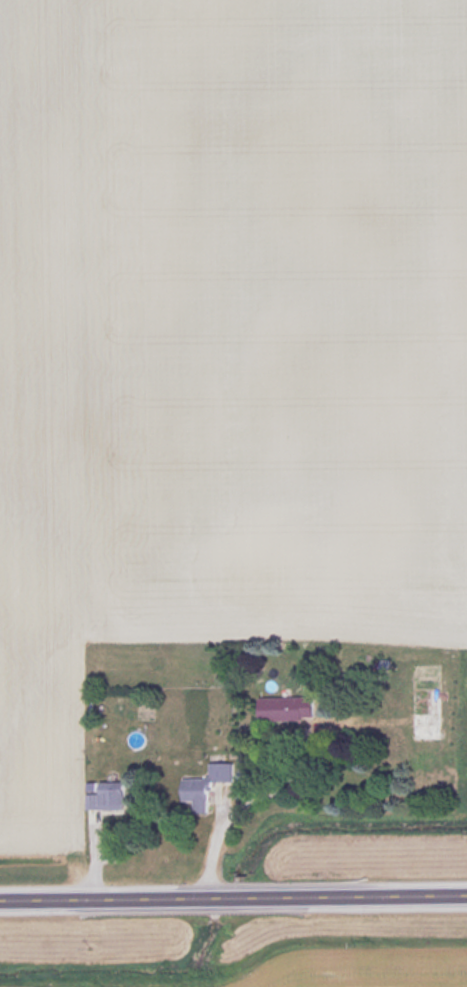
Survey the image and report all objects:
building: (431, 699)
building: (289, 707)
building: (208, 785)
building: (110, 795)
road: (225, 816)
road: (233, 901)

